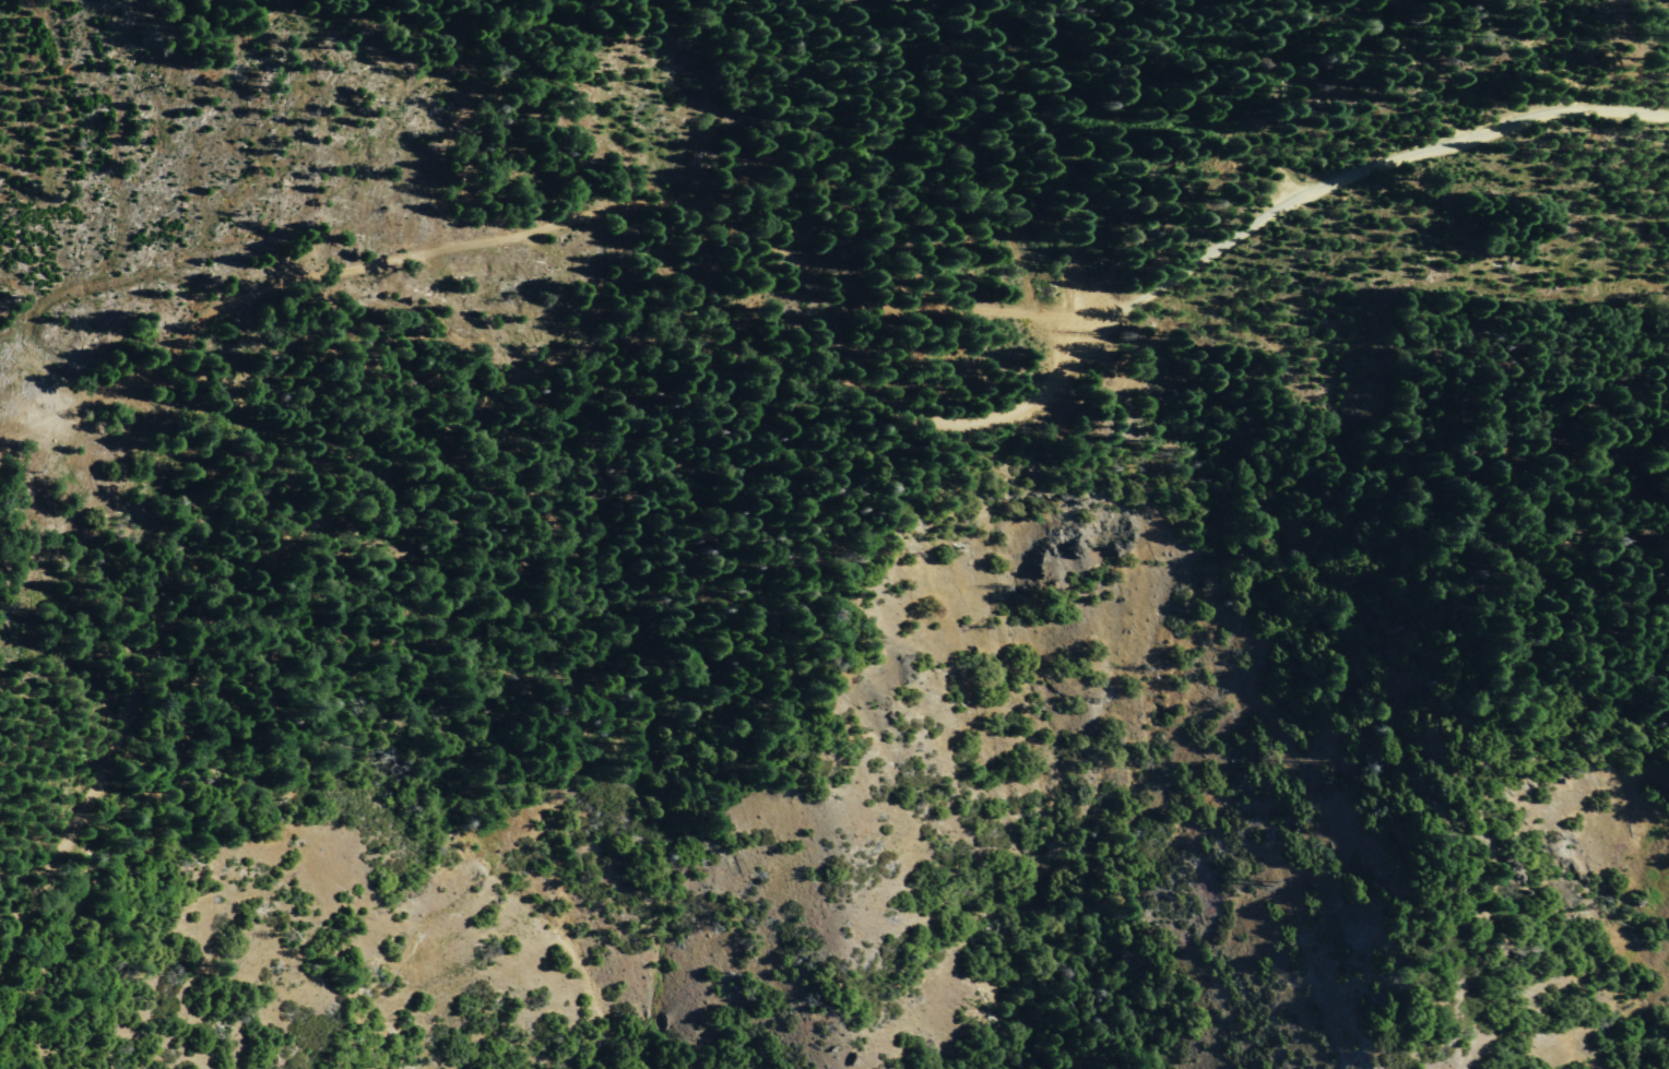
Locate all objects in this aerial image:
road: (735, 364)

